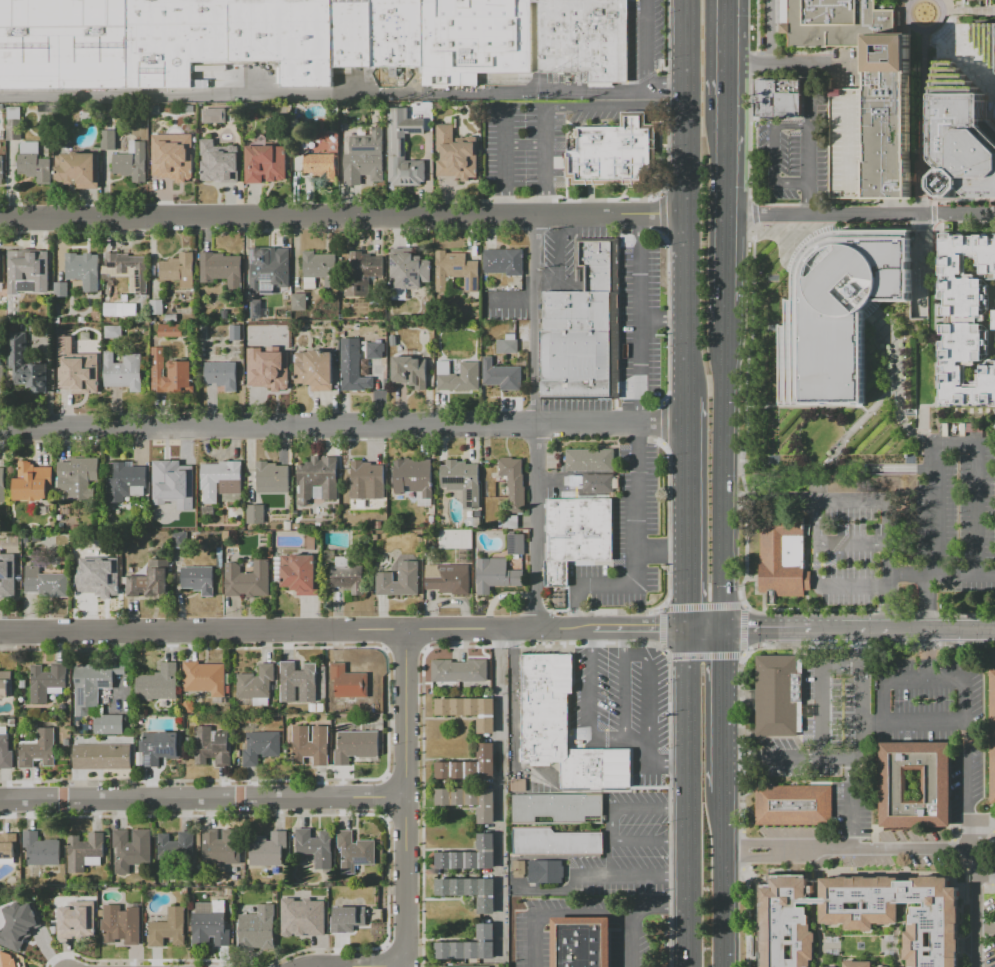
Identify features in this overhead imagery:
road: (908, 1)
road: (974, 12)
road: (950, 13)
fountain: (926, 14)
road: (977, 26)
building: (987, 32)
road: (770, 33)
road: (926, 33)
road: (924, 35)
building: (301, 40)
parking lot: (648, 40)
road: (648, 44)
flagpole: (830, 46)
flagpole: (838, 46)
flagpole: (847, 46)
flagpole: (855, 46)
flagpole: (863, 46)
road: (723, 50)
road: (954, 66)
road: (802, 67)
road: (925, 79)
road: (342, 91)
building: (781, 99)
building: (217, 116)
building: (13, 122)
building: (966, 138)
building: (111, 141)
road: (811, 141)
road: (545, 143)
building: (850, 143)
parking garage: (850, 143)
building: (891, 143)
road: (504, 145)
building: (30, 147)
building: (406, 147)
parking lot: (798, 152)
building: (616, 153)
building: (459, 155)
road: (775, 155)
road: (723, 158)
building: (367, 159)
building: (134, 163)
building: (221, 163)
building: (267, 164)
building: (33, 166)
building: (324, 167)
building: (1, 168)
building: (81, 170)
building: (174, 171)
road: (504, 198)
road: (546, 198)
road: (683, 199)
road: (580, 215)
road: (239, 216)
road: (859, 217)
road: (919, 219)
road: (558, 261)
building: (506, 262)
building: (2, 267)
building: (83, 267)
building: (181, 270)
building: (224, 270)
building: (275, 270)
building: (321, 270)
building: (411, 270)
building: (130, 271)
building: (458, 271)
building: (31, 272)
road: (723, 273)
building: (365, 274)
building: (63, 290)
building: (301, 302)
road: (509, 302)
building: (159, 308)
building: (263, 309)
building: (112, 310)
building: (133, 311)
building: (836, 311)
building: (227, 315)
road: (639, 319)
road: (660, 319)
building: (966, 321)
parking lot: (643, 323)
building: (585, 328)
building: (173, 331)
building: (116, 332)
building: (238, 333)
building: (395, 341)
building: (509, 347)
building: (377, 351)
building: (28, 365)
building: (355, 367)
building: (317, 371)
building: (125, 372)
building: (412, 373)
building: (174, 375)
building: (1, 376)
building: (224, 376)
building: (449, 376)
building: (504, 376)
building: (270, 380)
building: (84, 382)
road: (534, 420)
road: (340, 425)
road: (639, 438)
road: (722, 446)
building: (592, 461)
road: (899, 468)
building: (14, 471)
road: (683, 476)
building: (369, 477)
building: (80, 478)
building: (180, 478)
building: (274, 478)
road: (975, 478)
building: (417, 479)
building: (223, 480)
building: (320, 481)
building: (465, 482)
building: (128, 483)
building: (2, 484)
building: (35, 484)
building: (516, 484)
building: (600, 484)
road: (768, 499)
building: (258, 515)
building: (62, 518)
road: (935, 521)
parking lot: (907, 522)
building: (510, 523)
building: (187, 524)
building: (64, 526)
building: (4, 527)
building: (76, 528)
building: (578, 536)
building: (40, 539)
building: (182, 540)
road: (849, 542)
building: (518, 545)
road: (637, 549)
road: (661, 551)
building: (784, 557)
building: (7, 575)
building: (303, 575)
road: (940, 575)
building: (499, 576)
building: (350, 577)
building: (100, 579)
building: (450, 579)
building: (201, 580)
building: (250, 581)
building: (402, 581)
building: (46, 582)
building: (153, 582)
road: (685, 589)
road: (880, 590)
road: (722, 593)
road: (926, 600)
road: (702, 606)
road: (576, 607)
road: (858, 625)
road: (703, 626)
traffic signals: (722, 626)
road: (533, 627)
road: (661, 627)
road: (673, 627)
traffic signals: (685, 627)
road: (742, 629)
road: (203, 630)
road: (590, 638)
road: (624, 639)
road: (722, 640)
road: (685, 650)
road: (927, 652)
road: (705, 655)
road: (841, 662)
building: (462, 672)
building: (208, 680)
building: (51, 682)
building: (301, 683)
building: (5, 684)
building: (351, 685)
building: (162, 686)
building: (259, 686)
road: (511, 686)
road: (647, 687)
road: (966, 688)
building: (99, 695)
road: (624, 695)
building: (781, 696)
road: (822, 710)
building: (473, 712)
road: (590, 712)
road: (407, 713)
road: (720, 722)
road: (913, 722)
building: (561, 728)
parking lot: (880, 735)
road: (636, 739)
building: (992, 739)
road: (740, 742)
building: (313, 746)
building: (359, 747)
building: (162, 748)
building: (215, 748)
building: (263, 748)
building: (5, 749)
building: (40, 750)
road: (647, 752)
building: (105, 758)
road: (857, 759)
road: (666, 765)
building: (474, 766)
flagpole: (665, 780)
building: (516, 784)
building: (915, 786)
road: (203, 798)
building: (472, 802)
road: (851, 803)
road: (669, 805)
building: (796, 805)
building: (559, 808)
road: (985, 819)
road: (686, 820)
road: (613, 823)
building: (558, 842)
road: (752, 844)
building: (8, 847)
building: (224, 848)
building: (318, 848)
parking lot: (628, 848)
road: (878, 848)
road: (741, 849)
park: (991, 849)
building: (44, 850)
building: (134, 850)
building: (270, 850)
building: (357, 852)
building: (87, 853)
building: (179, 854)
building: (472, 856)
road: (753, 856)
road: (607, 857)
building: (521, 870)
building: (546, 871)
road: (633, 876)
road: (721, 878)
road: (985, 878)
road: (407, 882)
parking lot: (514, 887)
building: (473, 892)
road: (975, 893)
road: (657, 905)
road: (580, 912)
building: (309, 917)
road: (746, 917)
building: (78, 920)
building: (350, 920)
building: (18, 924)
building: (124, 925)
building: (213, 925)
building: (935, 925)
building: (787, 926)
building: (171, 929)
building: (262, 930)
building: (32, 937)
road: (532, 939)
road: (629, 939)
building: (580, 941)
building: (472, 947)
building: (7, 960)
building: (859, 964)
road: (359, 966)
building: (463, 966)

